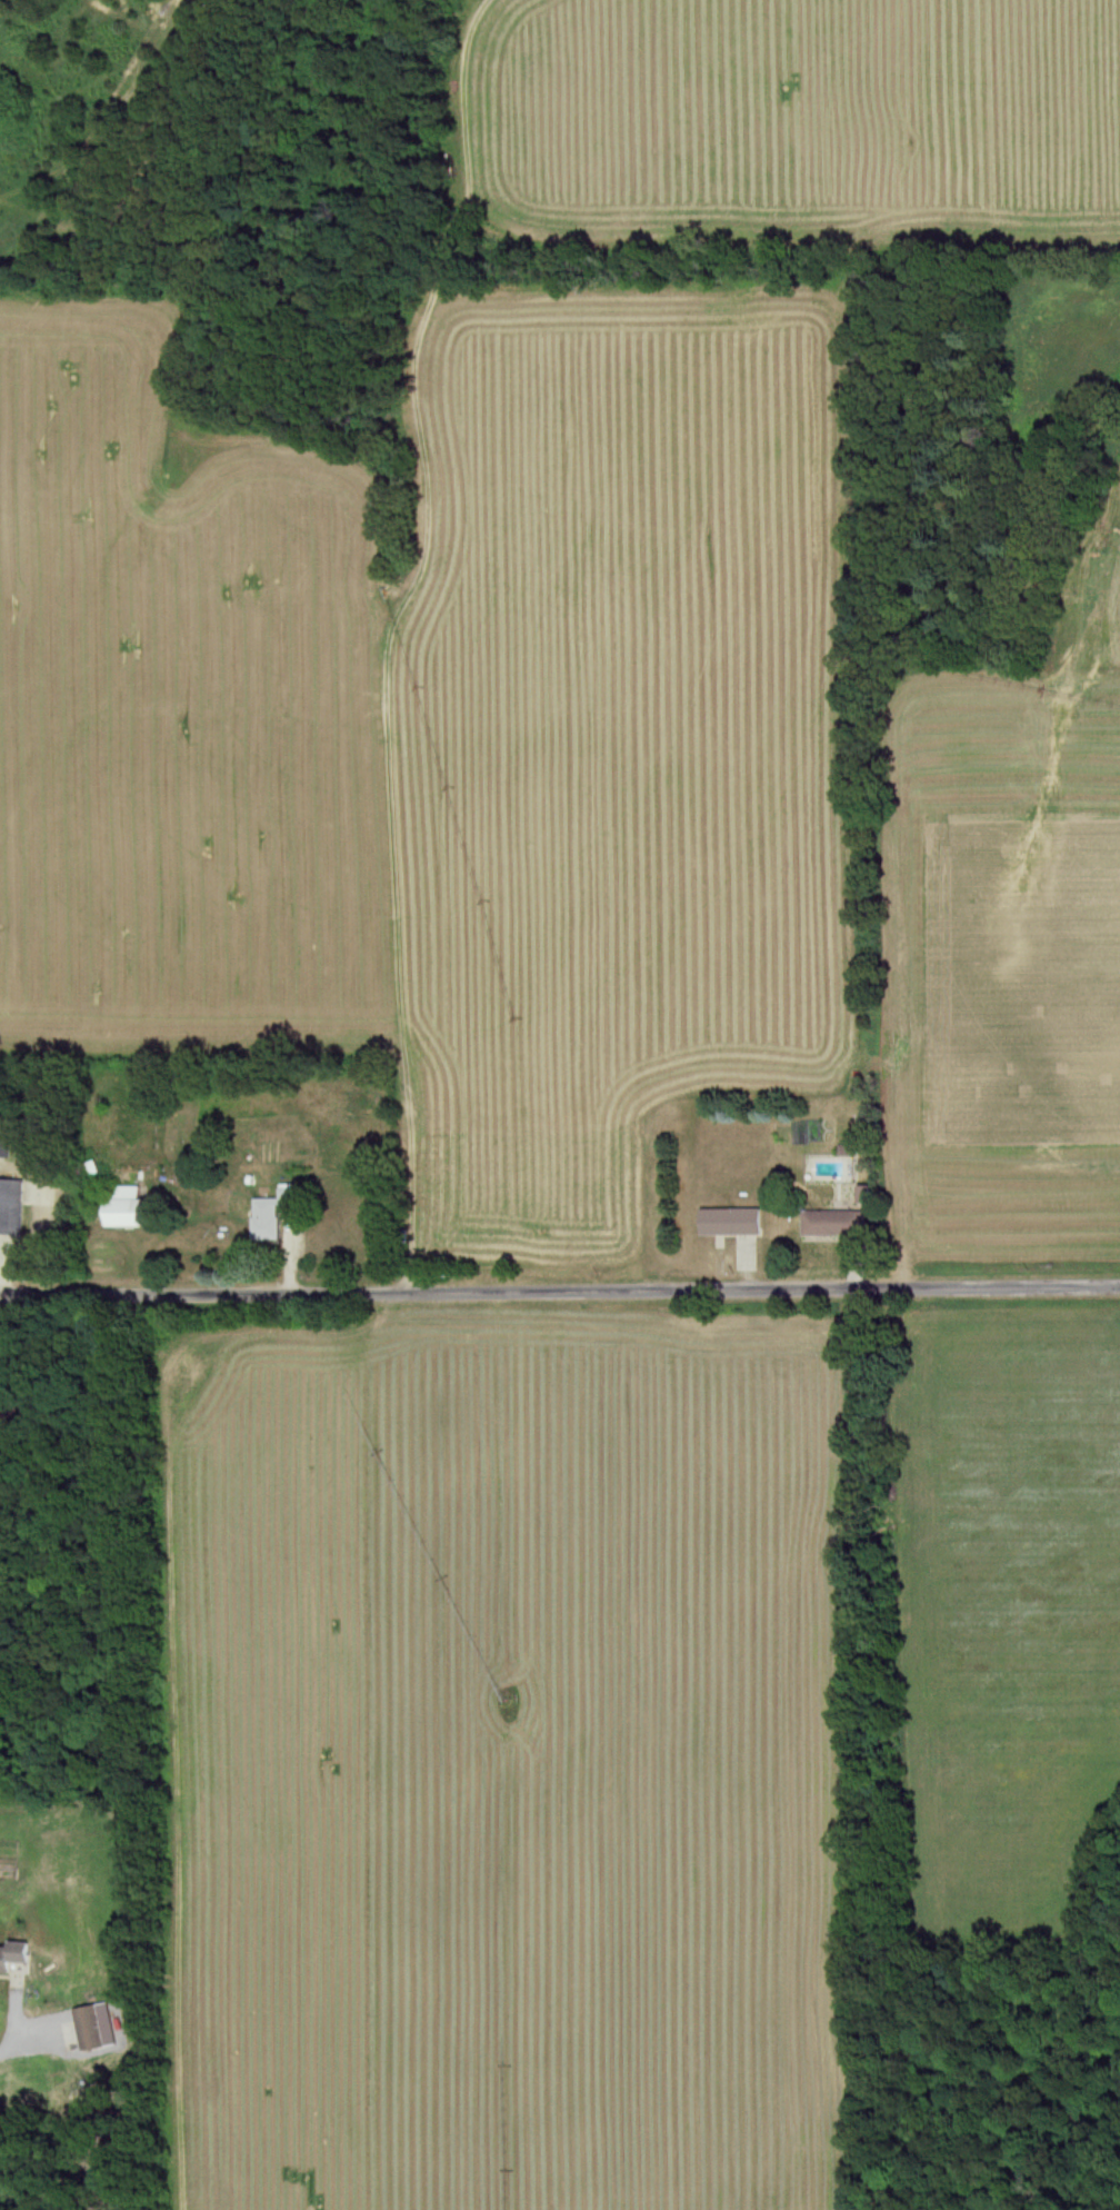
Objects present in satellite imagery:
building: (4, 1147)
building: (11, 1206)
building: (129, 1207)
building: (277, 1213)
building: (732, 1222)
building: (833, 1223)
road: (559, 1295)
building: (9, 1408)
building: (14, 1960)
road: (17, 2027)
building: (97, 2028)

